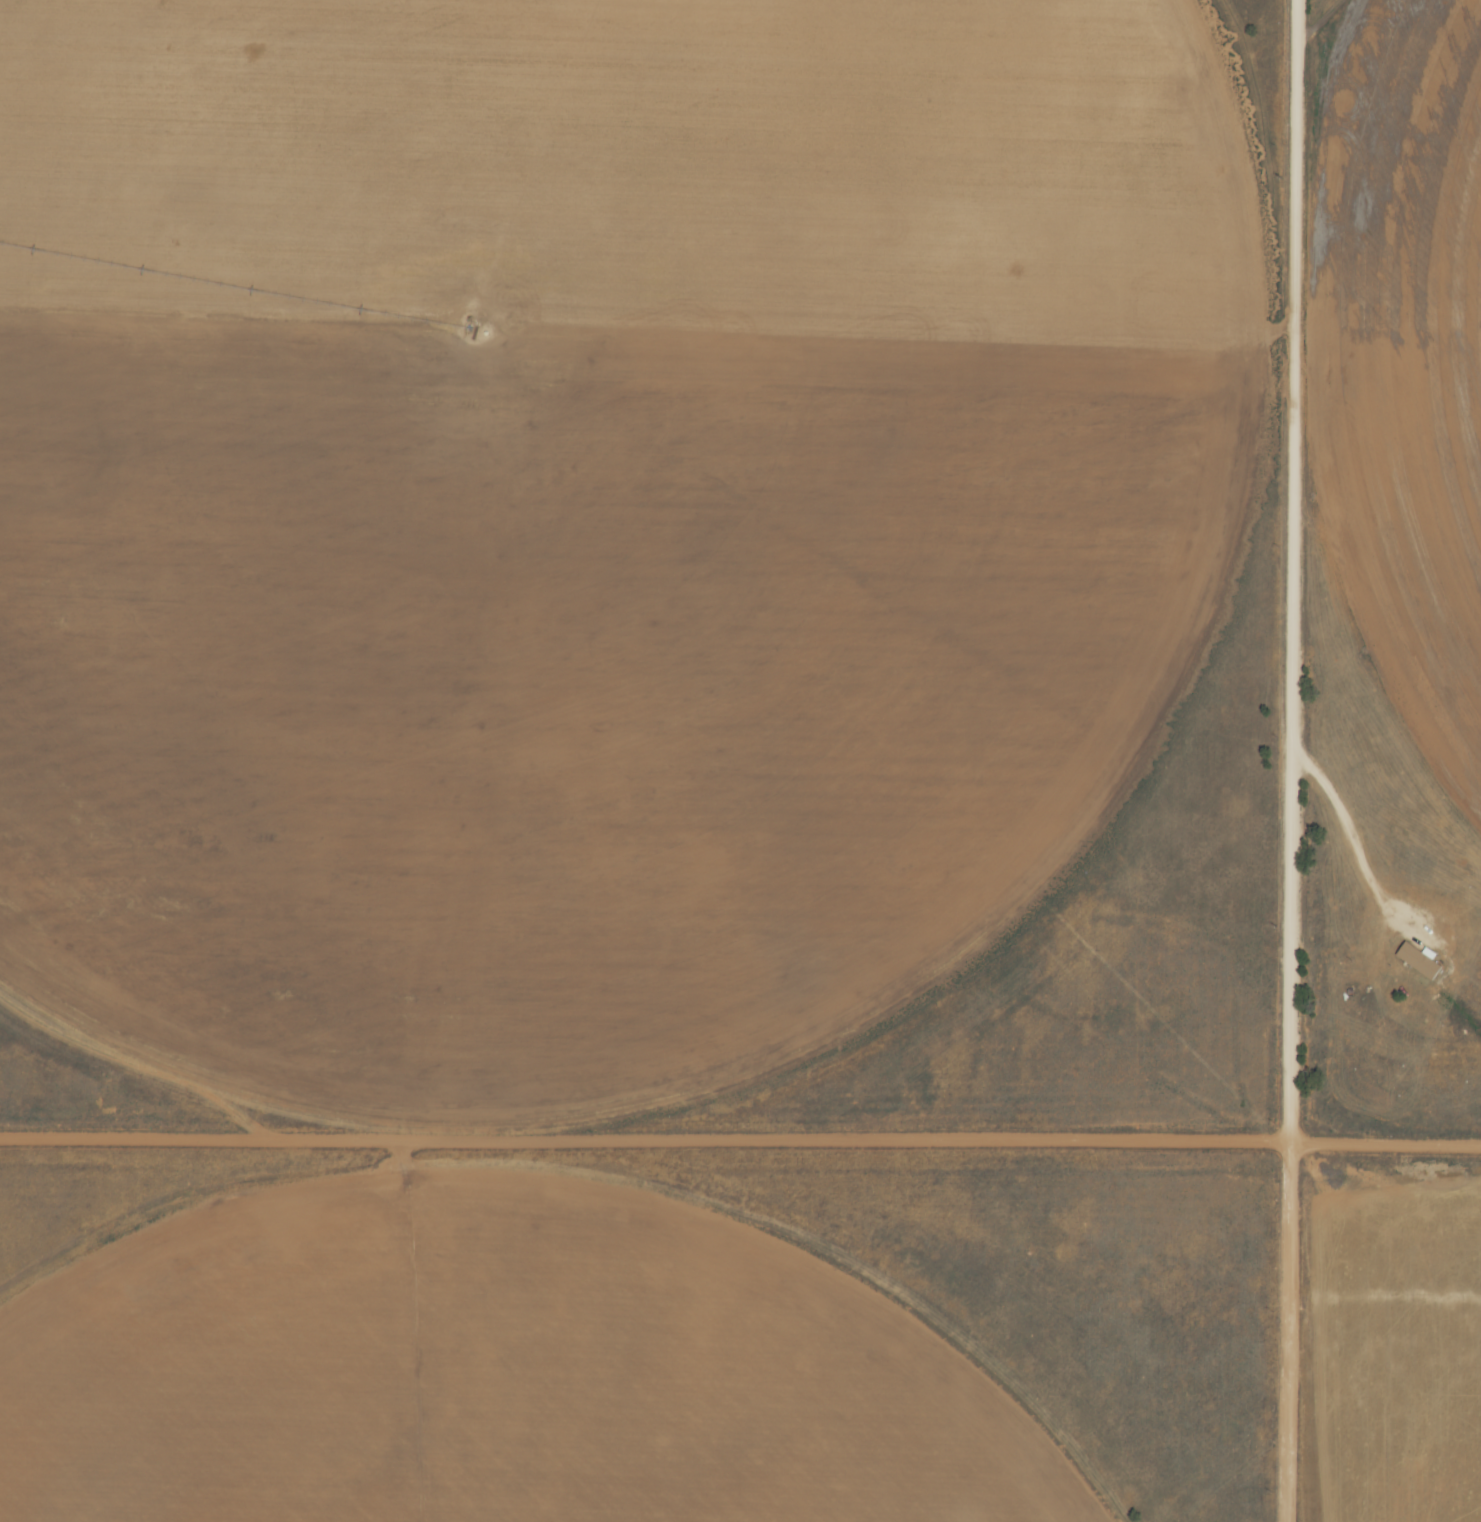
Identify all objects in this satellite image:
road: (1298, 572)
building: (1420, 962)
road: (740, 1143)
road: (1292, 1333)

